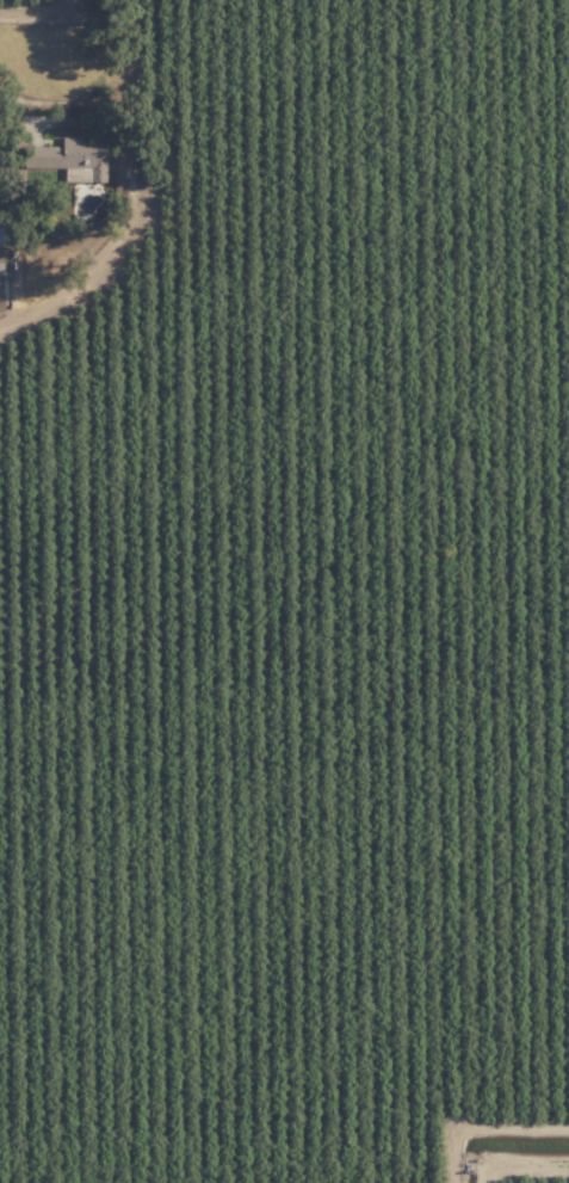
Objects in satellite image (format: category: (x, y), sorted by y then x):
road: (41, 8)
building: (68, 159)
road: (132, 187)

